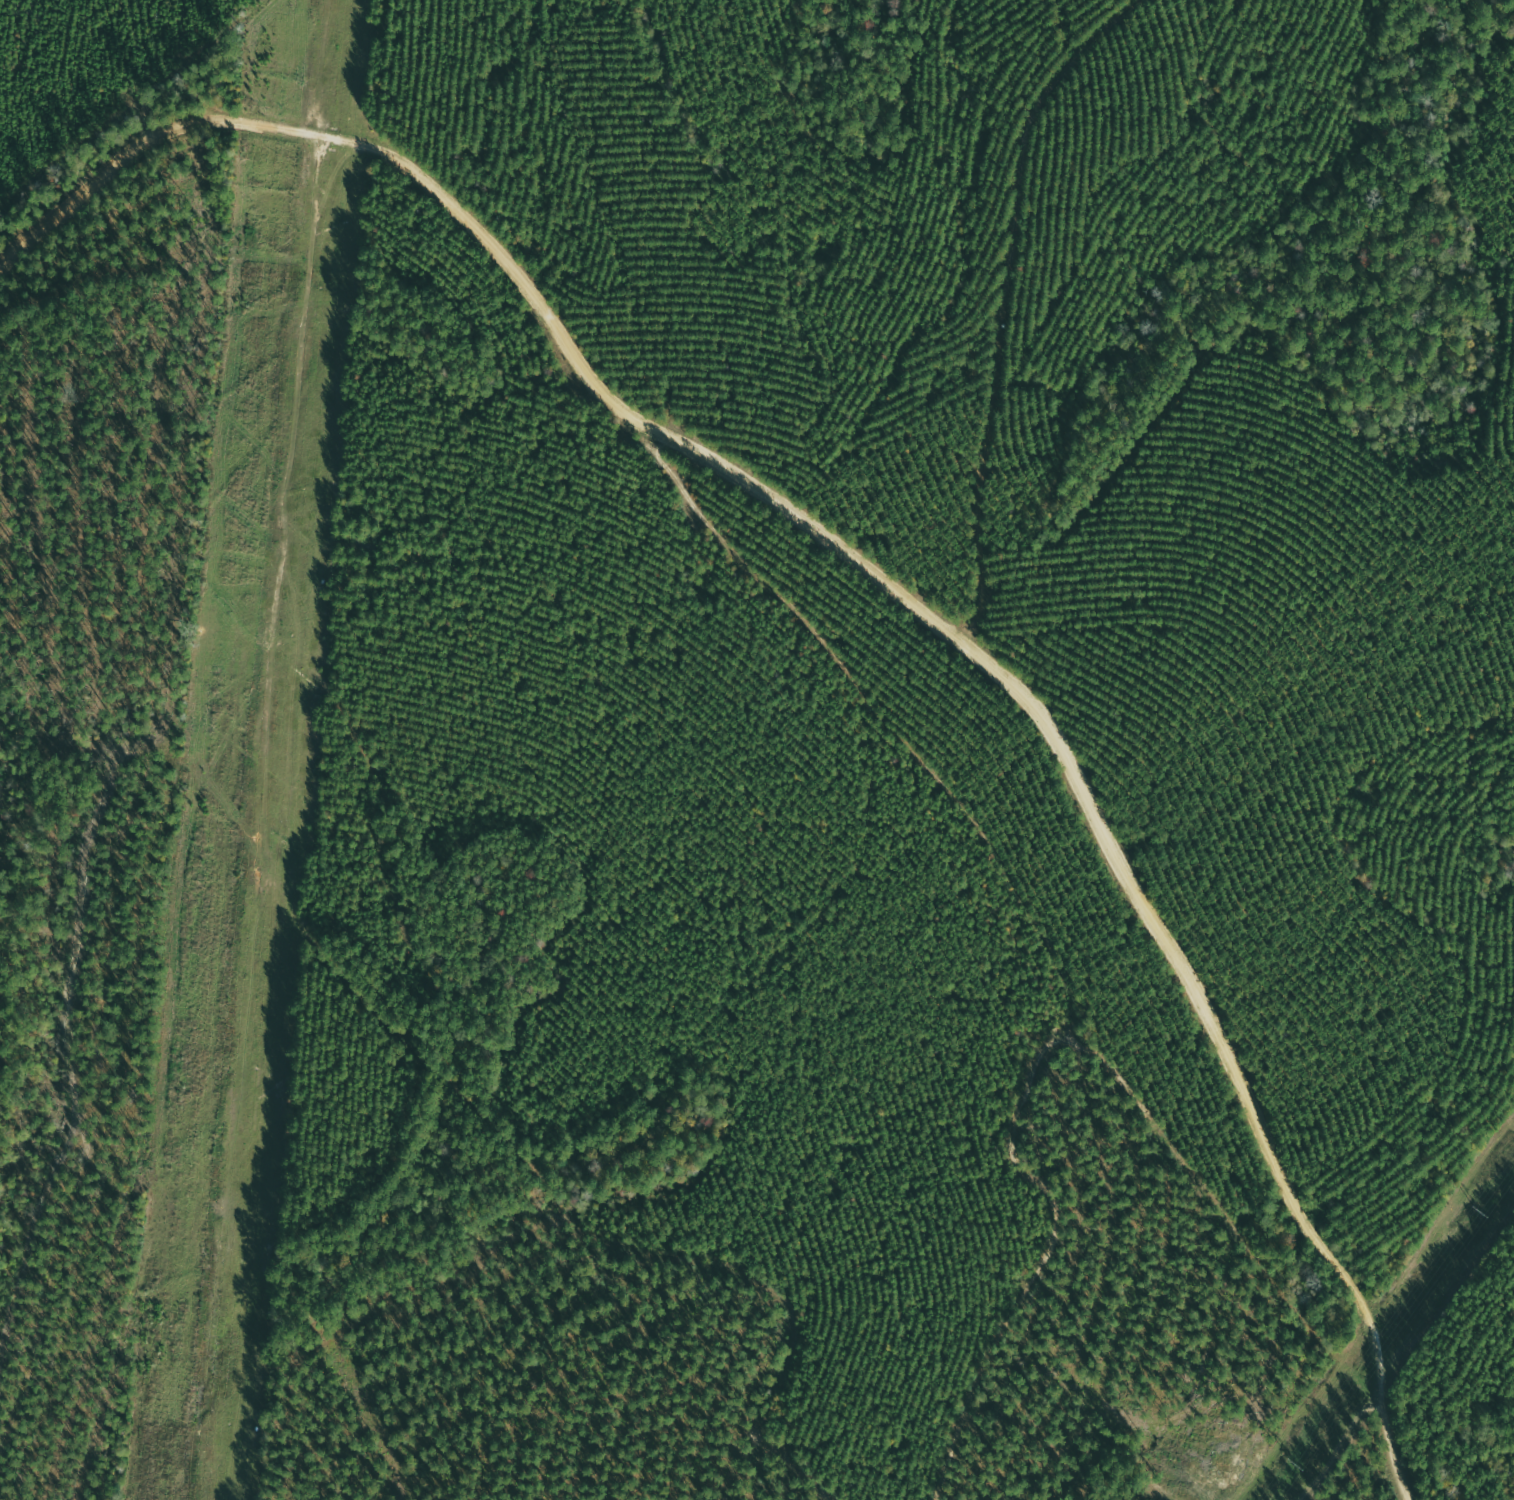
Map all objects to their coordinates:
road: (227, 787)
power tower: (1475, 1210)
power tower: (1293, 1463)

